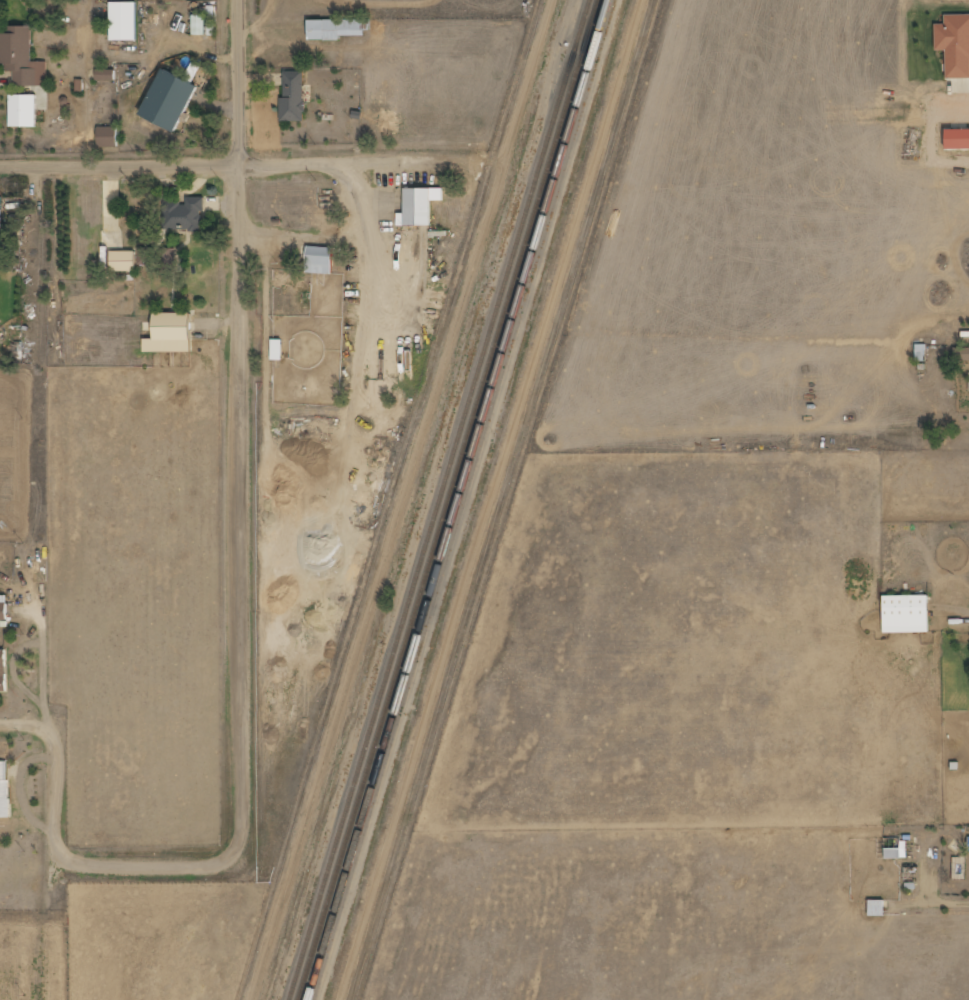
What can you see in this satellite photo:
building: (125, 21)
building: (199, 25)
building: (336, 29)
building: (954, 44)
building: (21, 57)
building: (105, 75)
building: (293, 97)
building: (171, 100)
building: (24, 111)
building: (108, 137)
building: (958, 139)
road: (228, 163)
building: (420, 207)
building: (1, 213)
building: (184, 214)
building: (145, 256)
building: (168, 259)
building: (320, 260)
building: (123, 261)
building: (171, 333)
building: (278, 349)
building: (961, 353)
road: (243, 425)
railway: (442, 499)
railway: (451, 499)
railway: (462, 499)
building: (4, 607)
building: (906, 614)
building: (3, 671)
building: (4, 790)
building: (968, 843)
building: (896, 852)
building: (876, 907)

